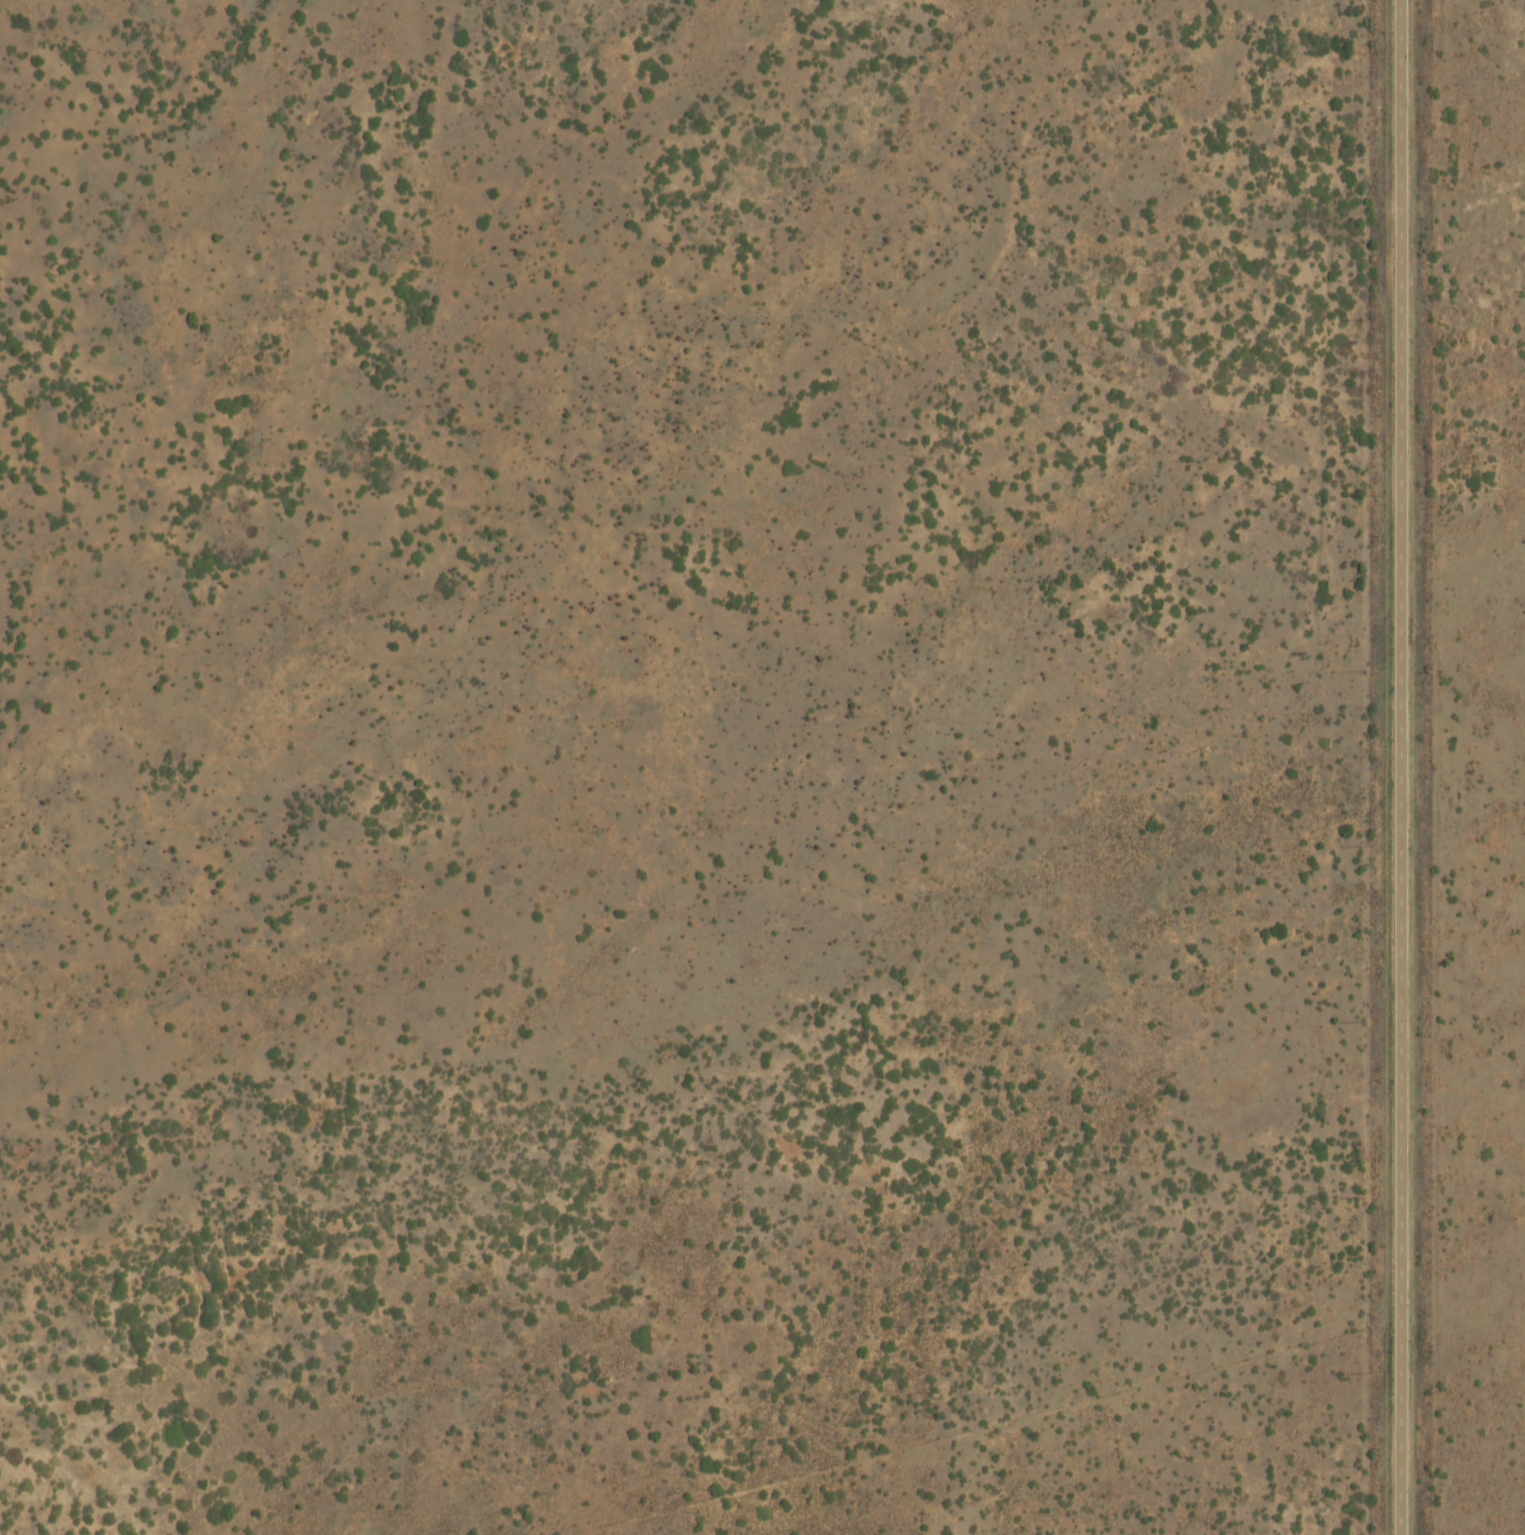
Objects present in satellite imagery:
road: (1416, 767)

